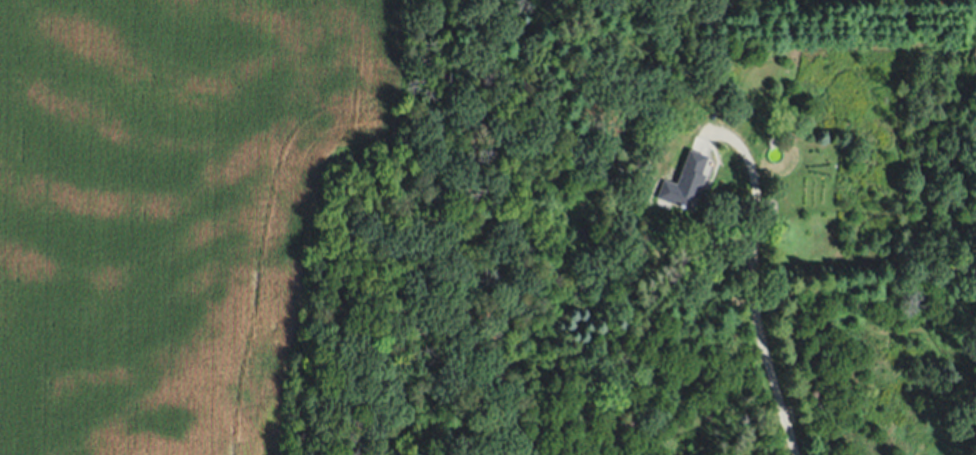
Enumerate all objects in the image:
building: (685, 182)
road: (749, 286)

